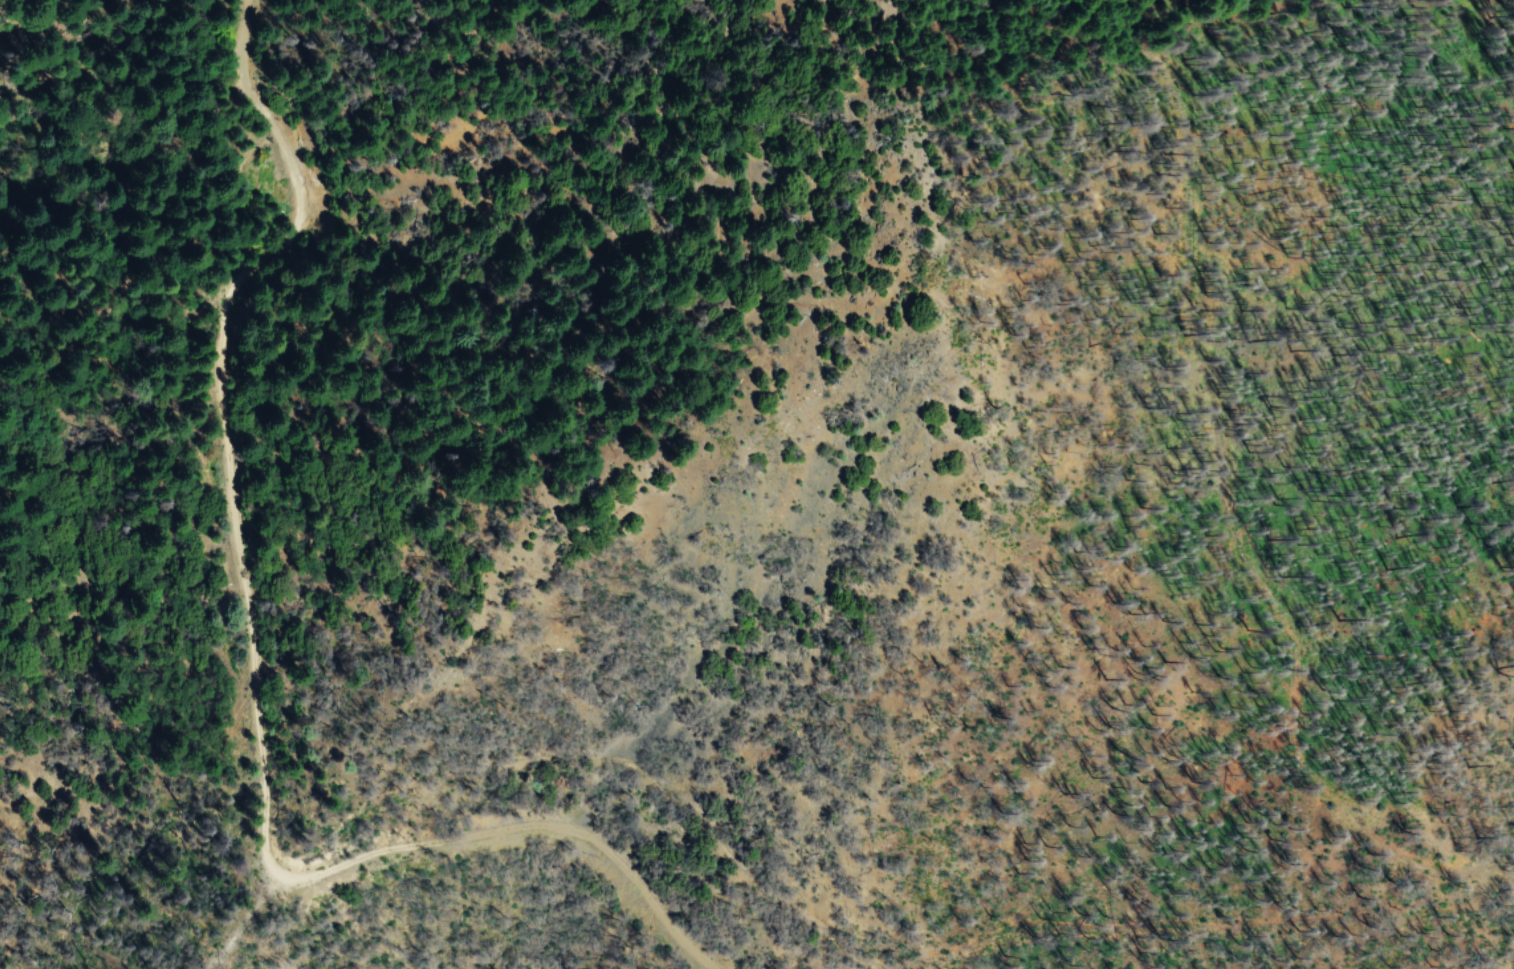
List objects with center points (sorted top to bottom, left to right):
road: (1202, 386)
road: (235, 618)

